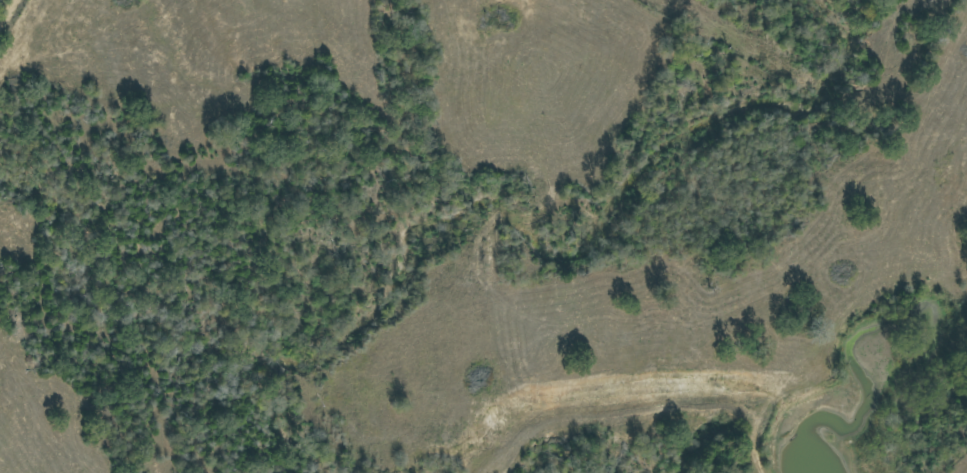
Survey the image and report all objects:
road: (5, 9)

